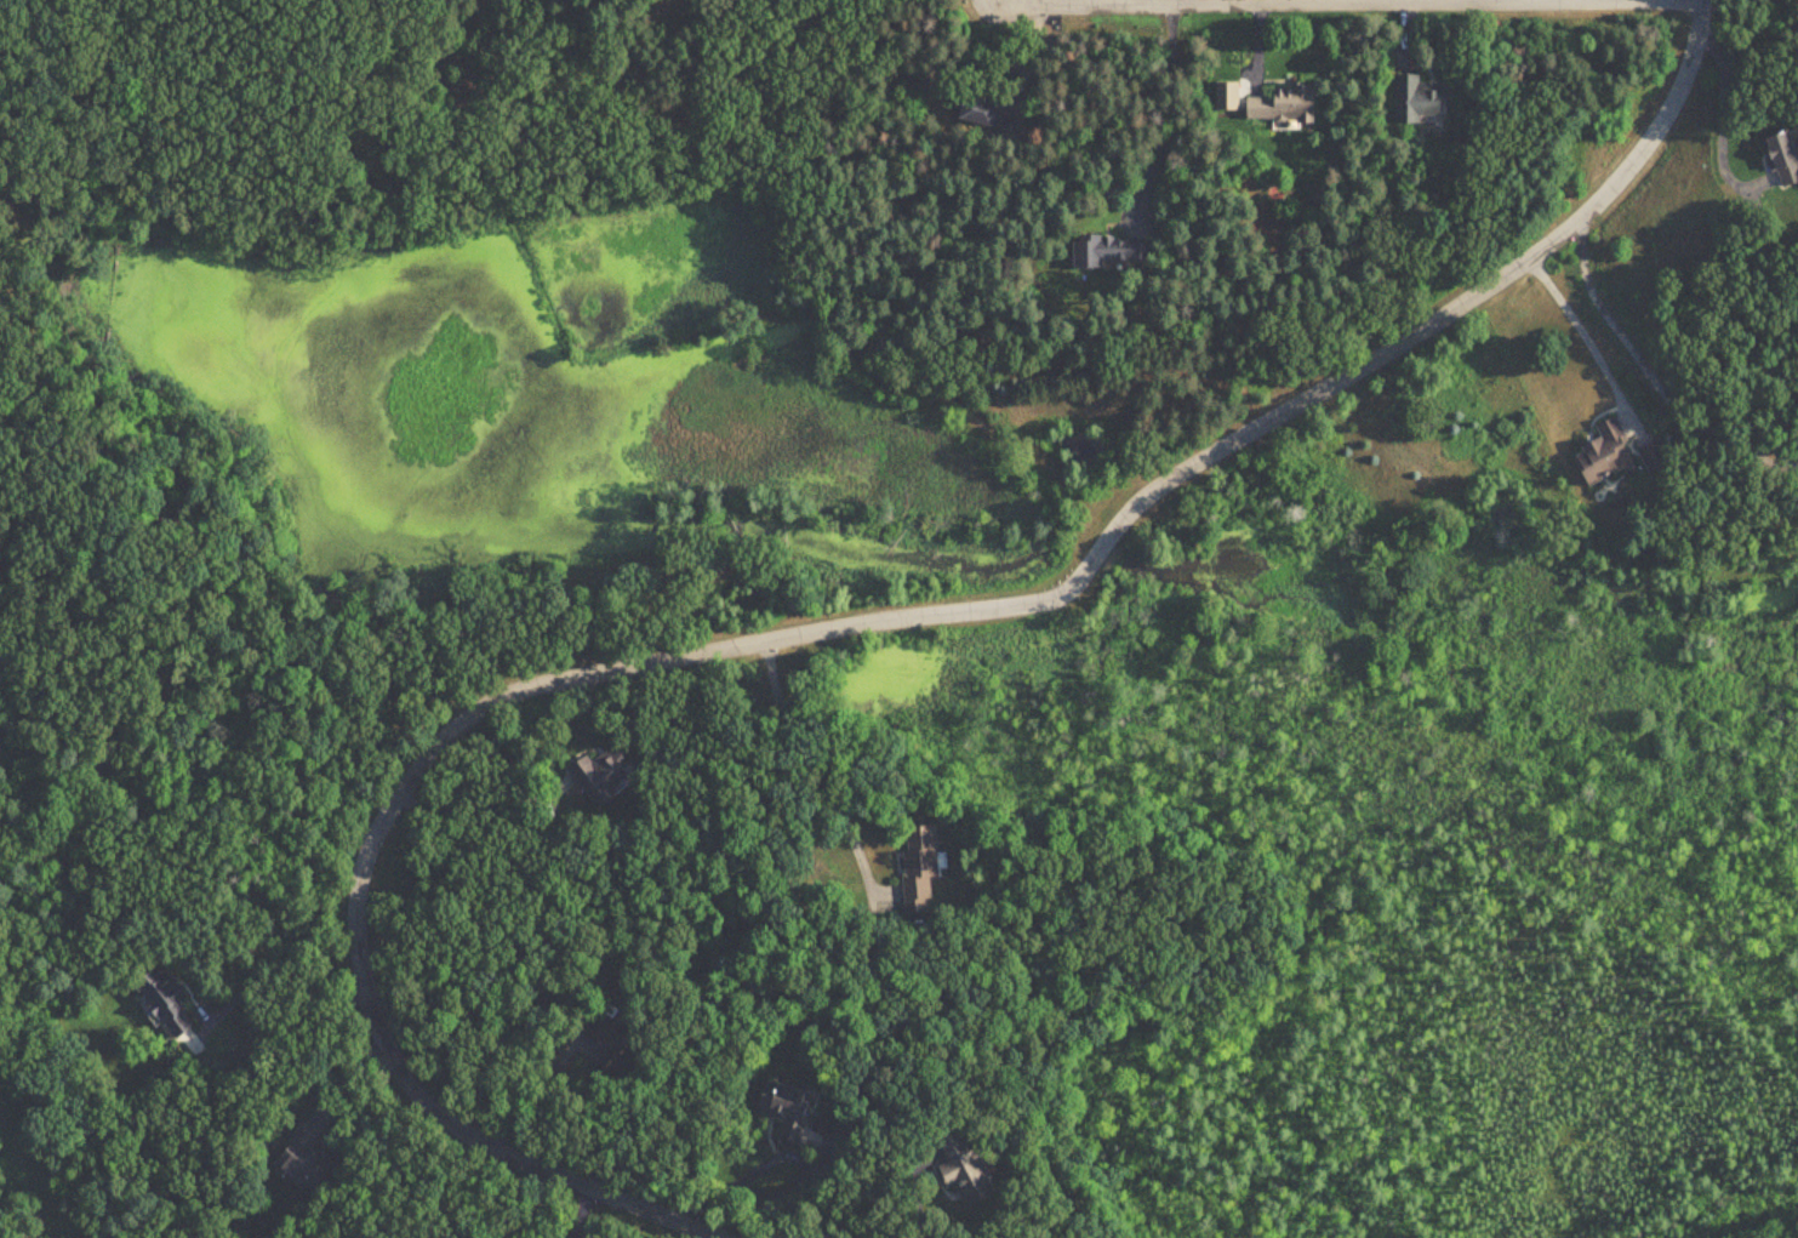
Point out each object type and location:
road: (1170, 2)
road: (1386, 2)
road: (1461, 2)
road: (1364, 6)
building: (1416, 101)
building: (1278, 105)
road: (1170, 110)
building: (977, 113)
road: (1717, 113)
building: (1781, 158)
building: (1103, 251)
road: (1579, 327)
road: (1650, 375)
building: (1602, 452)
road: (830, 629)
road: (817, 769)
building: (598, 775)
building: (917, 862)
road: (292, 988)
building: (161, 1006)
building: (611, 1042)
road: (348, 1077)
road: (538, 1091)
building: (790, 1113)
road: (782, 1152)
building: (299, 1163)
building: (964, 1173)
road: (912, 1193)
road: (577, 1213)

